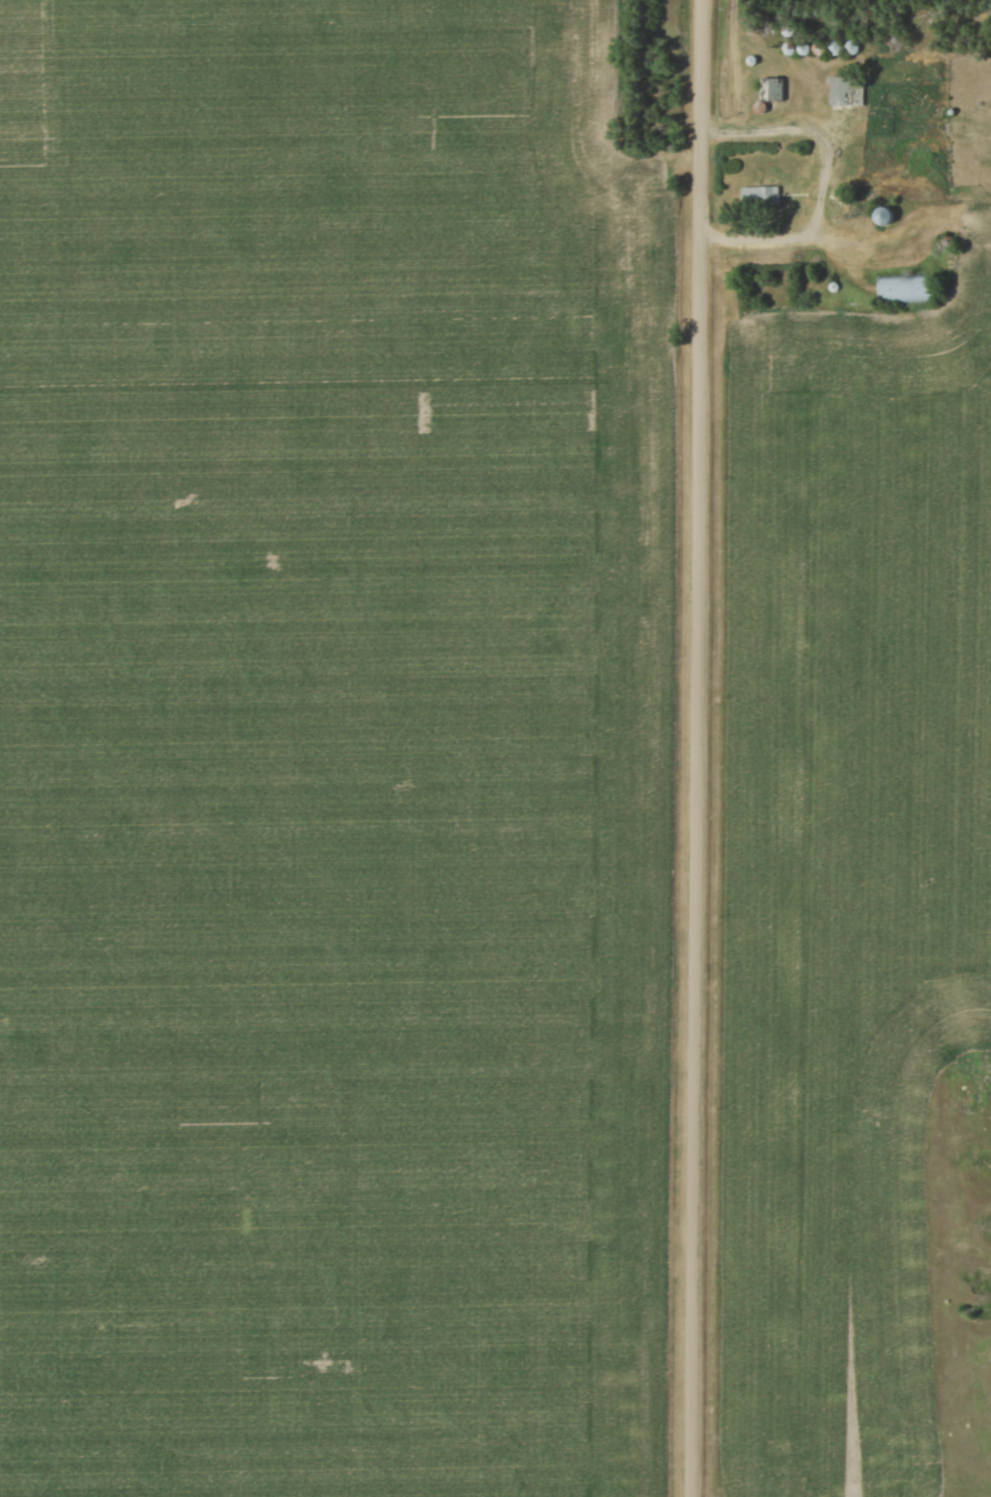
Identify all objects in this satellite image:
building: (769, 89)
building: (782, 92)
building: (852, 93)
road: (823, 179)
building: (757, 196)
building: (878, 216)
building: (888, 290)
building: (918, 290)
road: (696, 748)
crop: (331, 753)
crop: (855, 874)

